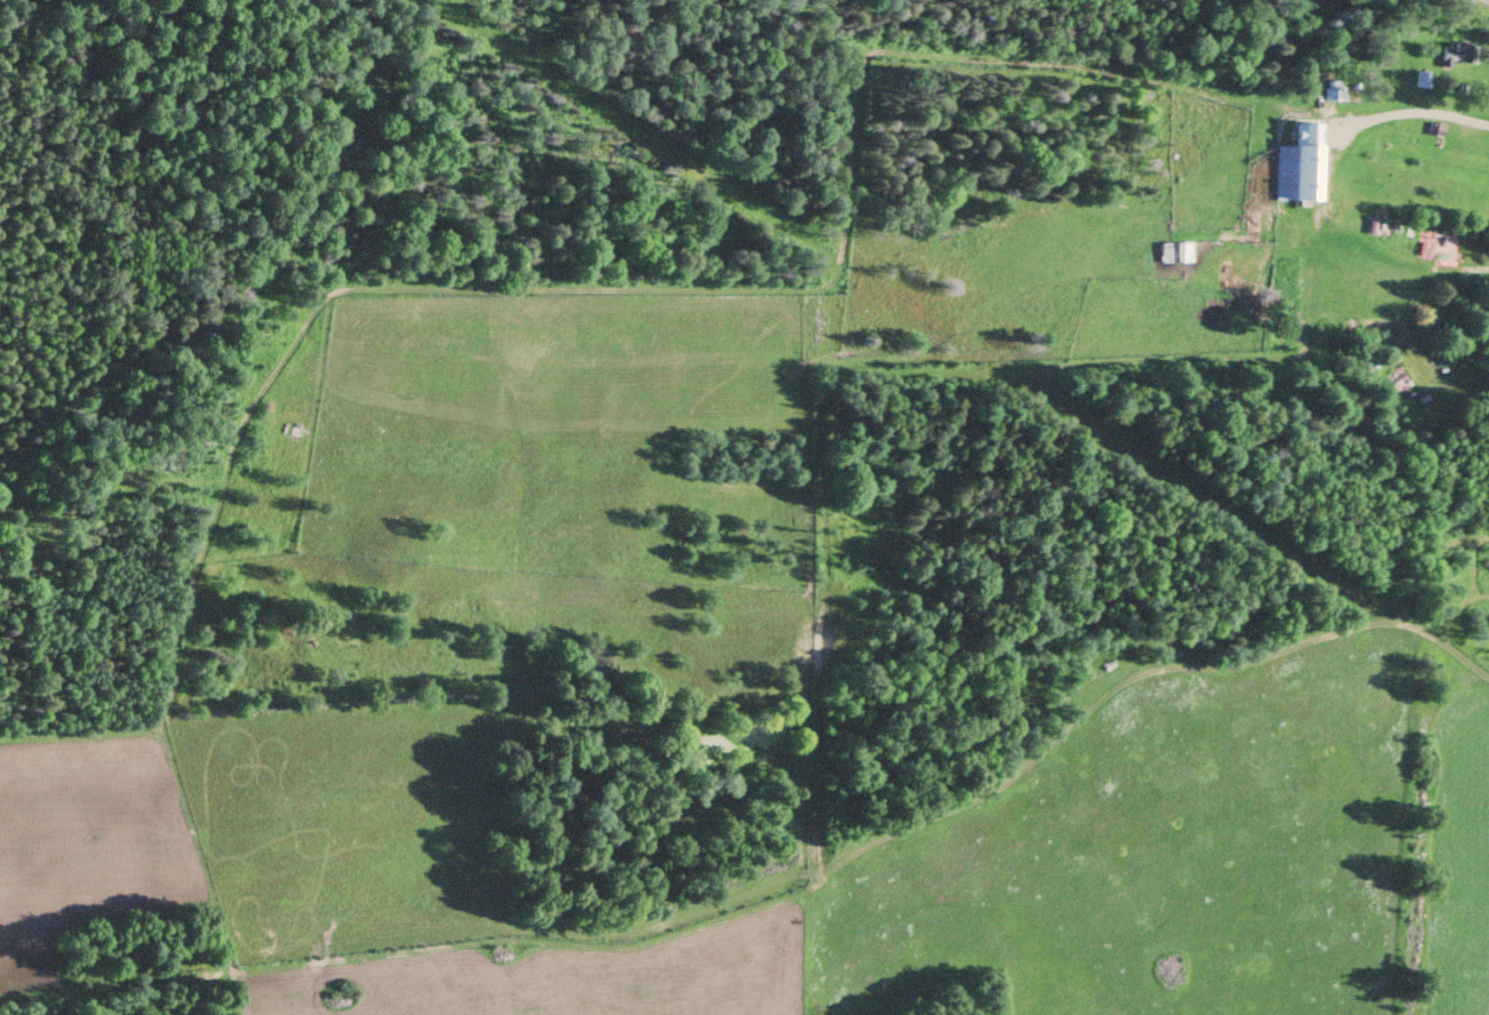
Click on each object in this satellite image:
building: (1452, 60)
building: (1419, 83)
building: (1331, 95)
building: (1299, 168)
building: (1174, 253)
building: (1446, 387)

